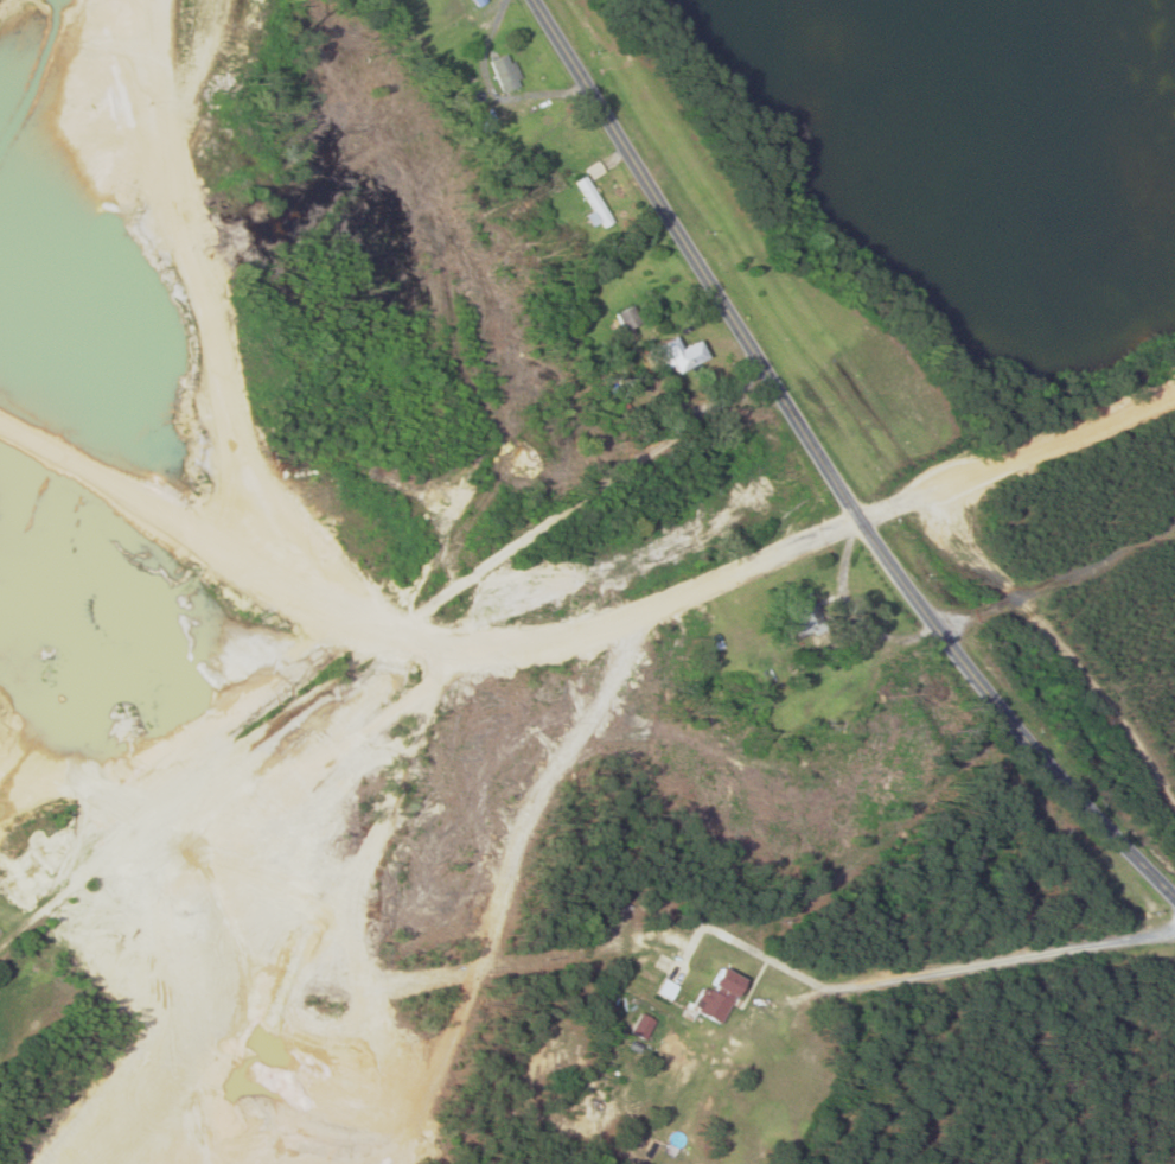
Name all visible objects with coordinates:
building: (478, 2)
building: (506, 74)
road: (645, 186)
building: (594, 204)
building: (679, 355)
road: (1018, 457)
building: (804, 615)
road: (954, 645)
road: (372, 649)
road: (371, 916)
road: (4, 935)
road: (934, 974)
building: (716, 996)
building: (644, 1026)

